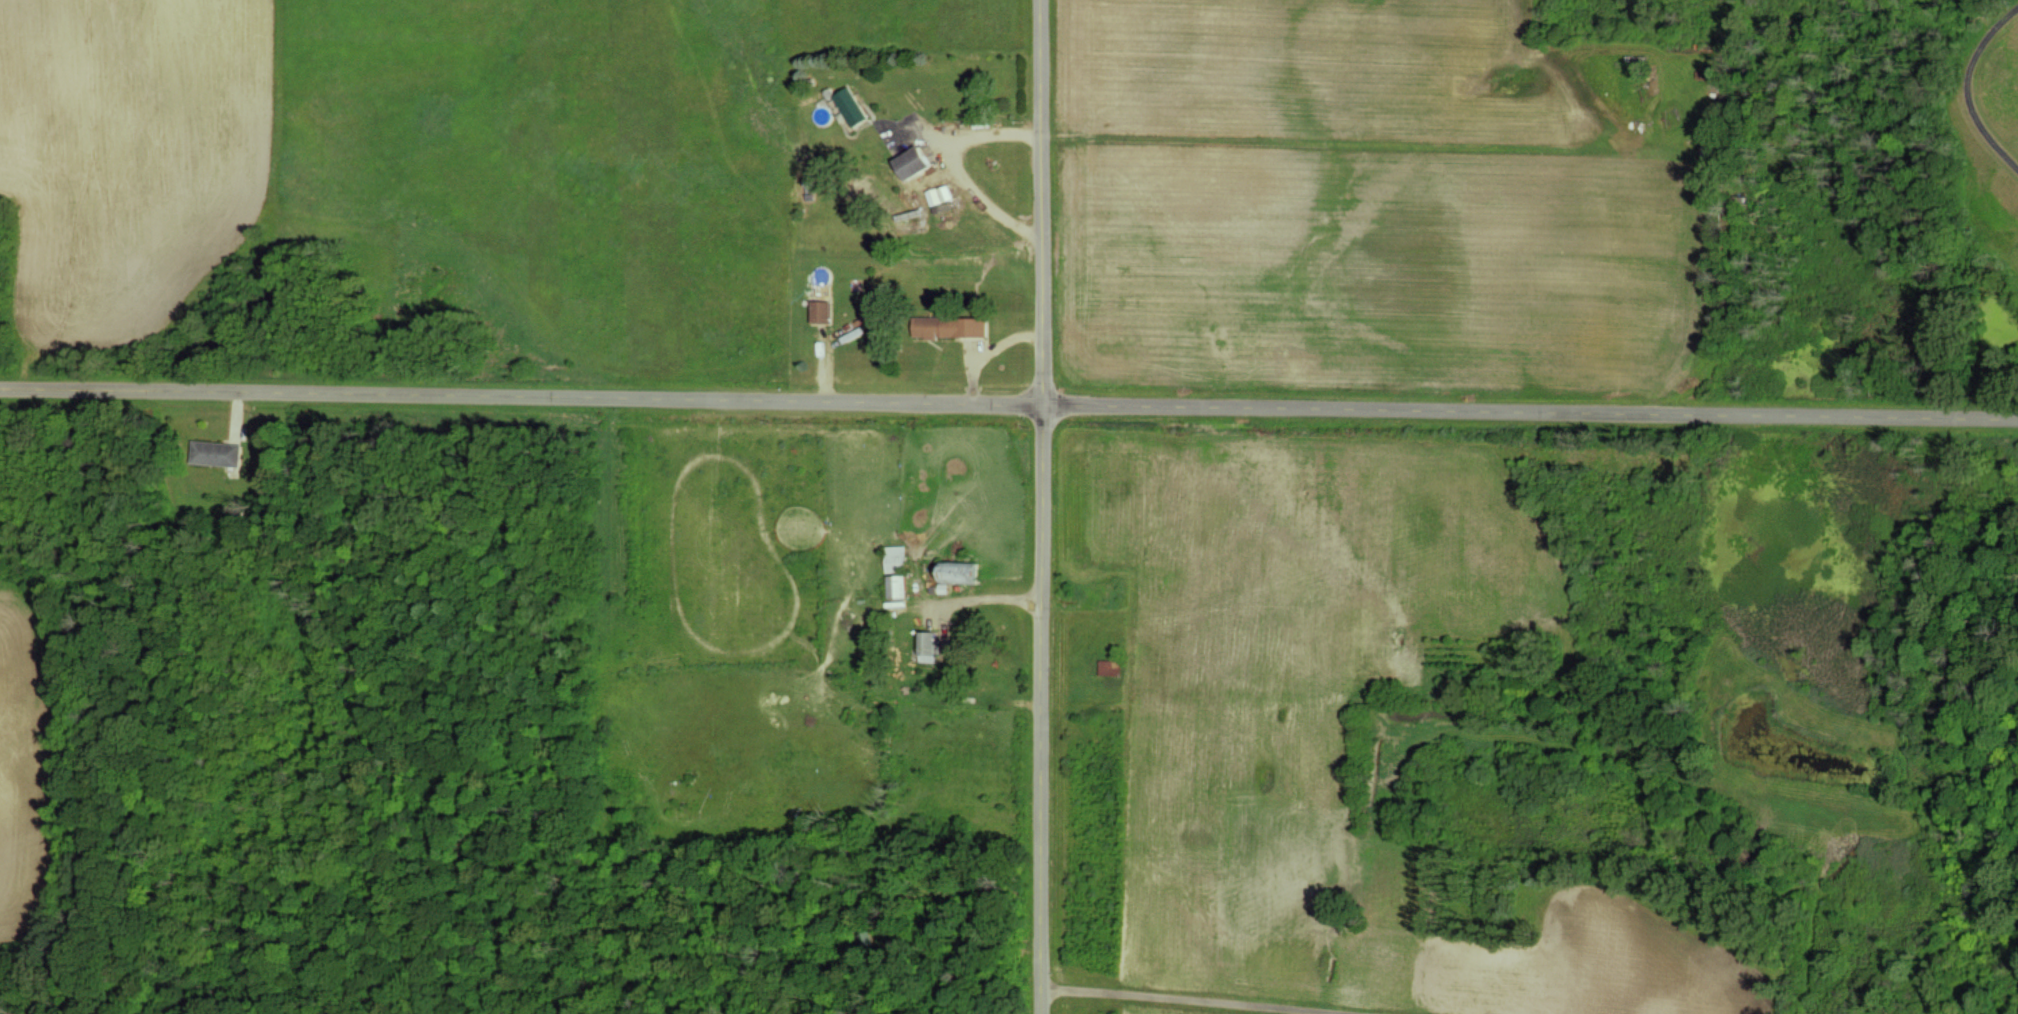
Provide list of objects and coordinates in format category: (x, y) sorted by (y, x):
road: (1965, 83)
building: (853, 106)
road: (916, 133)
road: (950, 160)
building: (914, 161)
building: (940, 194)
building: (821, 310)
building: (950, 326)
road: (1008, 406)
building: (218, 452)
road: (1045, 506)
building: (897, 558)
building: (961, 571)
building: (897, 585)
road: (984, 598)
building: (929, 646)
building: (1110, 667)
road: (1209, 998)

